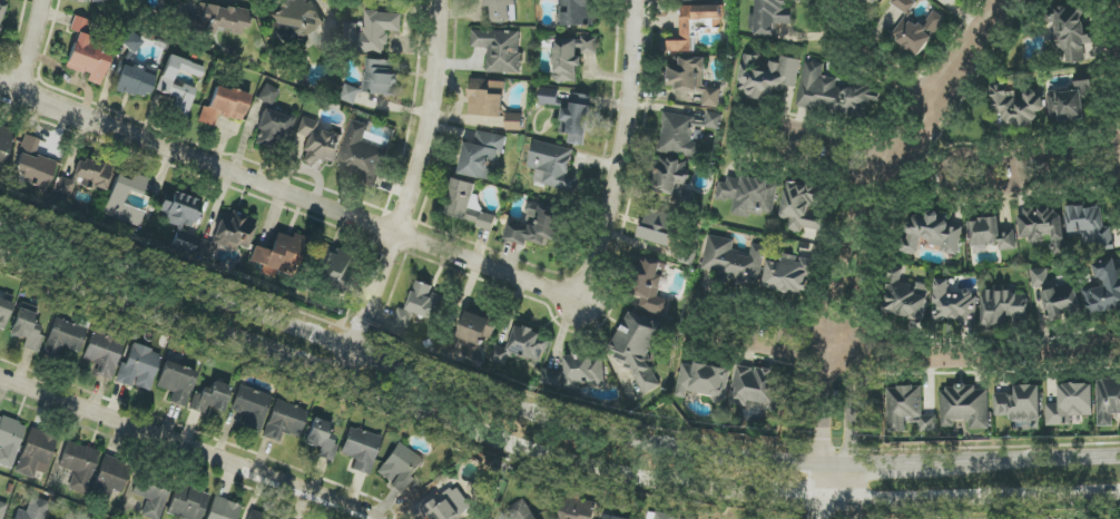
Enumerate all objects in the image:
building: (364, 0)
building: (691, 0)
building: (863, 0)
building: (502, 10)
building: (1, 12)
building: (578, 12)
building: (770, 17)
building: (219, 19)
building: (294, 20)
building: (695, 26)
building: (916, 28)
building: (372, 32)
building: (1070, 32)
building: (130, 41)
road: (31, 46)
building: (500, 50)
building: (87, 52)
building: (572, 57)
road: (859, 62)
road: (1116, 67)
building: (768, 76)
building: (382, 77)
building: (692, 79)
building: (135, 80)
building: (167, 86)
building: (836, 94)
building: (268, 95)
building: (351, 95)
building: (550, 97)
building: (487, 98)
building: (1068, 102)
building: (224, 106)
building: (1015, 108)
building: (577, 119)
building: (514, 121)
building: (714, 121)
road: (748, 126)
building: (273, 128)
building: (679, 136)
building: (317, 143)
building: (4, 144)
road: (621, 151)
building: (361, 155)
building: (483, 156)
building: (32, 165)
building: (553, 166)
road: (1015, 170)
road: (945, 172)
building: (86, 177)
building: (670, 177)
road: (291, 193)
building: (748, 195)
road: (407, 196)
building: (116, 199)
building: (804, 207)
road: (862, 209)
building: (180, 210)
building: (539, 226)
building: (658, 227)
building: (1043, 227)
building: (1090, 227)
building: (233, 231)
building: (932, 234)
building: (990, 235)
building: (206, 249)
building: (279, 254)
building: (733, 261)
building: (332, 270)
building: (789, 275)
building: (1040, 277)
building: (651, 285)
building: (1104, 288)
building: (904, 296)
building: (1061, 301)
building: (954, 304)
building: (420, 306)
building: (1004, 307)
building: (4, 312)
building: (27, 330)
building: (477, 330)
building: (63, 337)
building: (522, 346)
building: (638, 349)
building: (104, 351)
road: (878, 352)
road: (1034, 355)
building: (139, 368)
building: (584, 370)
building: (552, 378)
building: (703, 381)
building: (177, 382)
building: (758, 389)
building: (210, 398)
building: (1108, 401)
building: (1019, 403)
building: (1070, 404)
building: (964, 407)
building: (252, 408)
building: (907, 410)
road: (546, 413)
building: (285, 421)
building: (321, 438)
building: (9, 440)
road: (188, 445)
building: (361, 450)
building: (36, 452)
road: (544, 457)
building: (78, 466)
building: (401, 468)
building: (112, 474)
road: (834, 489)
building: (150, 497)
building: (187, 503)
building: (445, 505)
building: (578, 508)
building: (2, 509)
building: (33, 509)
building: (223, 509)
building: (519, 512)
building: (259, 516)
building: (665, 516)
building: (612, 517)
building: (682, 518)

